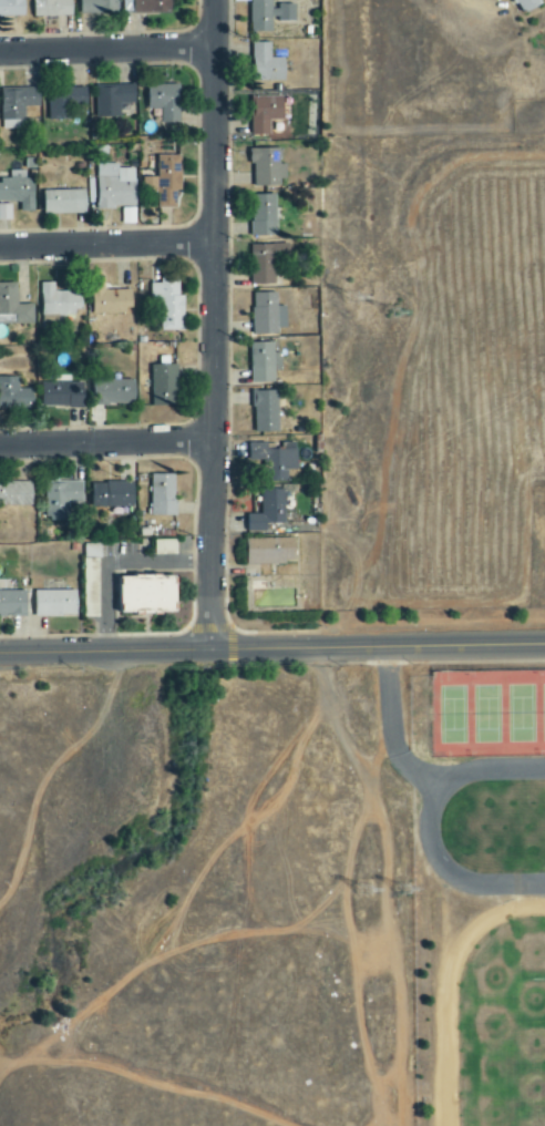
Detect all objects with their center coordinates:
building: (527, 6)
building: (97, 7)
building: (151, 7)
building: (51, 8)
building: (11, 9)
building: (268, 16)
road: (107, 51)
building: (268, 65)
building: (112, 99)
building: (164, 101)
building: (64, 102)
building: (16, 105)
building: (264, 113)
building: (267, 168)
building: (166, 180)
building: (114, 186)
building: (18, 191)
building: (63, 202)
building: (4, 212)
building: (263, 215)
road: (107, 246)
building: (266, 262)
power tower: (366, 296)
building: (109, 299)
building: (58, 301)
building: (166, 303)
building: (13, 307)
power tower: (409, 313)
building: (268, 314)
road: (215, 324)
building: (264, 362)
building: (163, 385)
building: (112, 392)
building: (13, 393)
building: (61, 395)
building: (265, 411)
road: (107, 446)
building: (275, 459)
building: (14, 494)
building: (162, 494)
building: (112, 495)
building: (60, 500)
building: (268, 511)
building: (165, 547)
building: (269, 551)
building: (148, 593)
building: (12, 603)
building: (54, 604)
road: (271, 647)
power tower: (382, 888)
power tower: (421, 888)

